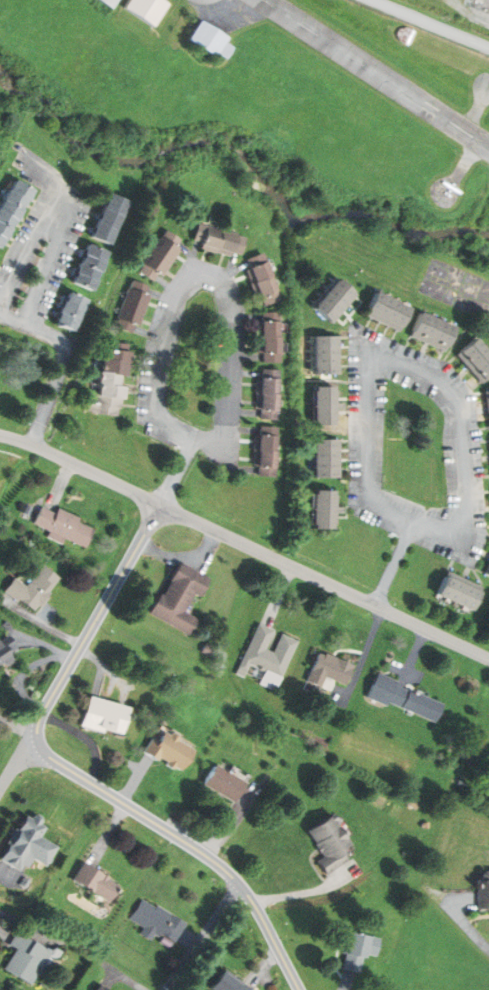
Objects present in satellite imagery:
airport hangar: (116, 2)
building: (116, 2)
airport hangar: (153, 8)
building: (153, 8)
airport hangar: (215, 34)
building: (215, 34)
airport runway: (375, 72)
airport: (281, 82)
road: (65, 199)
building: (12, 208)
building: (111, 218)
building: (219, 241)
building: (161, 255)
building: (91, 267)
building: (262, 279)
road: (230, 300)
building: (335, 300)
building: (132, 308)
building: (72, 311)
building: (388, 312)
building: (433, 332)
building: (269, 338)
building: (325, 355)
road: (64, 360)
building: (476, 360)
building: (111, 383)
road: (451, 390)
building: (267, 395)
building: (487, 405)
building: (324, 406)
building: (264, 451)
building: (326, 459)
road: (81, 467)
road: (177, 473)
building: (323, 510)
building: (62, 527)
road: (395, 563)
building: (487, 570)
road: (325, 580)
building: (31, 589)
building: (458, 593)
building: (178, 598)
building: (263, 653)
building: (6, 655)
building: (327, 670)
road: (27, 671)
building: (404, 699)
building: (106, 716)
building: (169, 750)
road: (16, 764)
road: (77, 775)
building: (222, 784)
building: (332, 844)
building: (32, 846)
building: (99, 882)
building: (484, 892)
building: (158, 921)
road: (467, 929)
road: (205, 937)
building: (168, 941)
building: (365, 952)
building: (30, 959)
building: (229, 983)
building: (107, 988)

